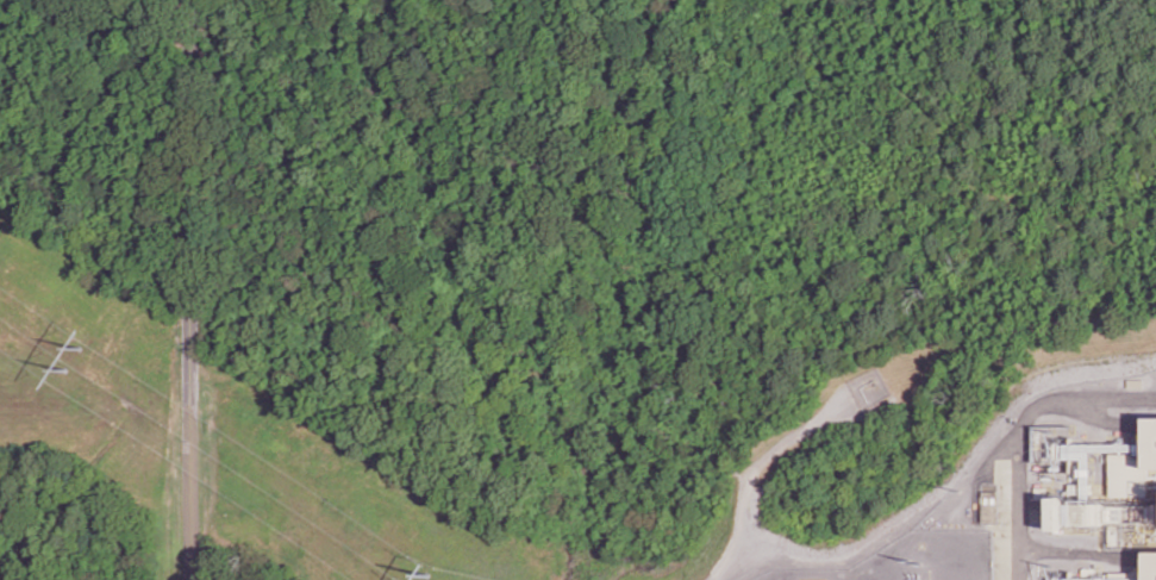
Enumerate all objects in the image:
road: (189, 169)
power tower: (77, 357)
road: (1021, 430)
building: (1150, 442)
building: (1057, 443)
road: (190, 460)
building: (1127, 470)
power plant: (1043, 497)
building: (1102, 513)
power substation: (917, 559)

